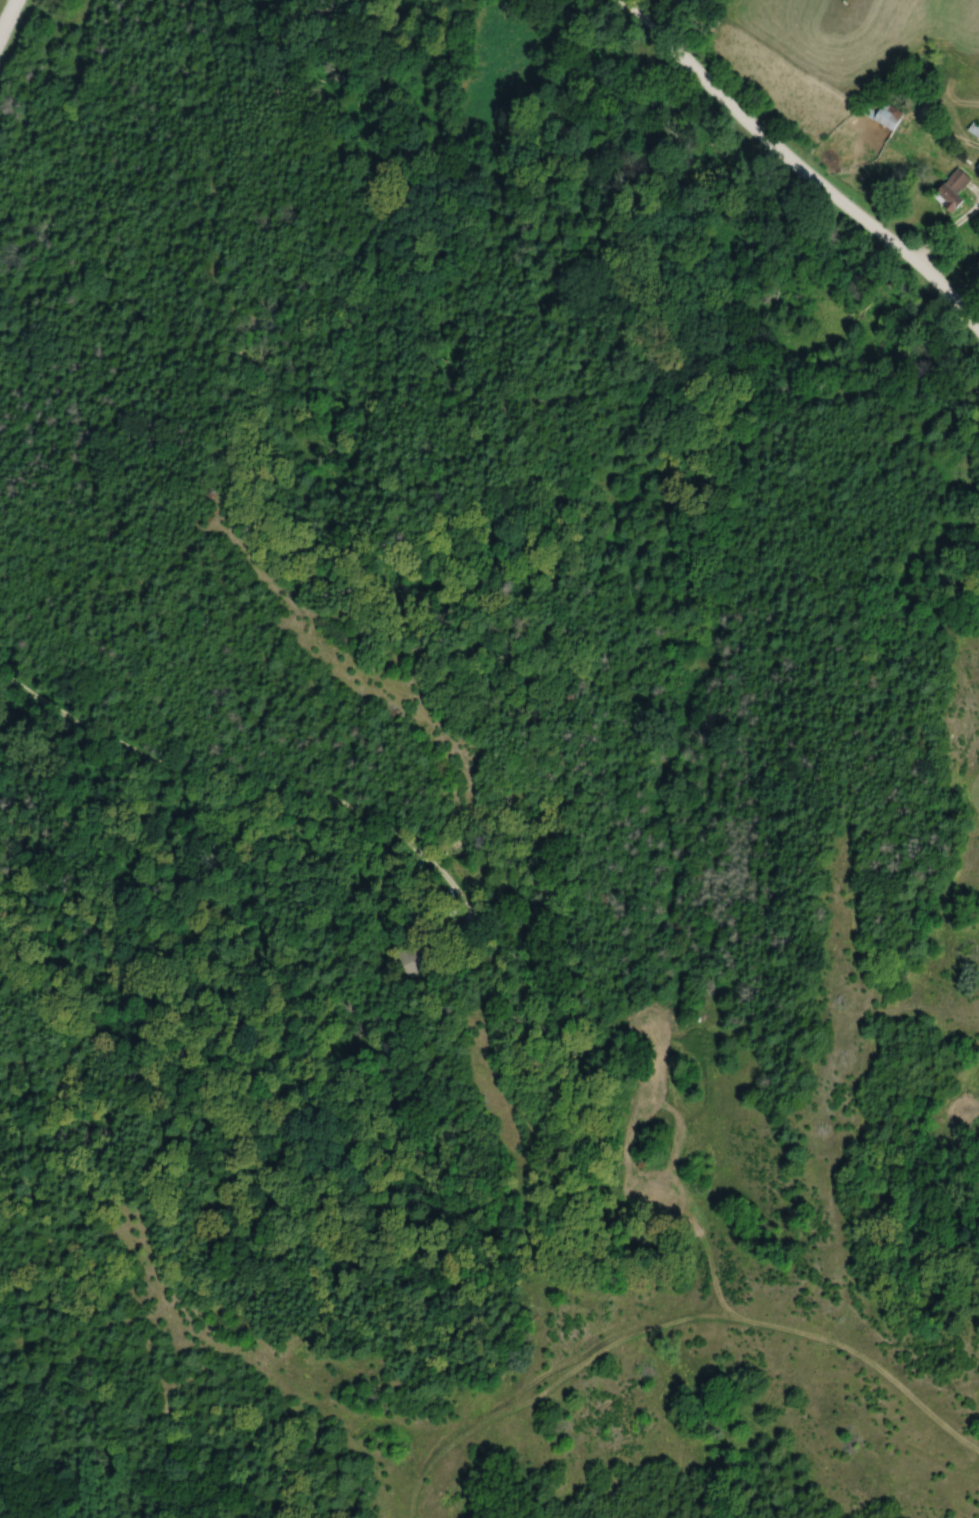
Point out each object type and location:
road: (8, 17)
building: (891, 116)
road: (796, 168)
building: (954, 190)
road: (975, 193)
road: (946, 236)
road: (977, 332)
road: (263, 782)

